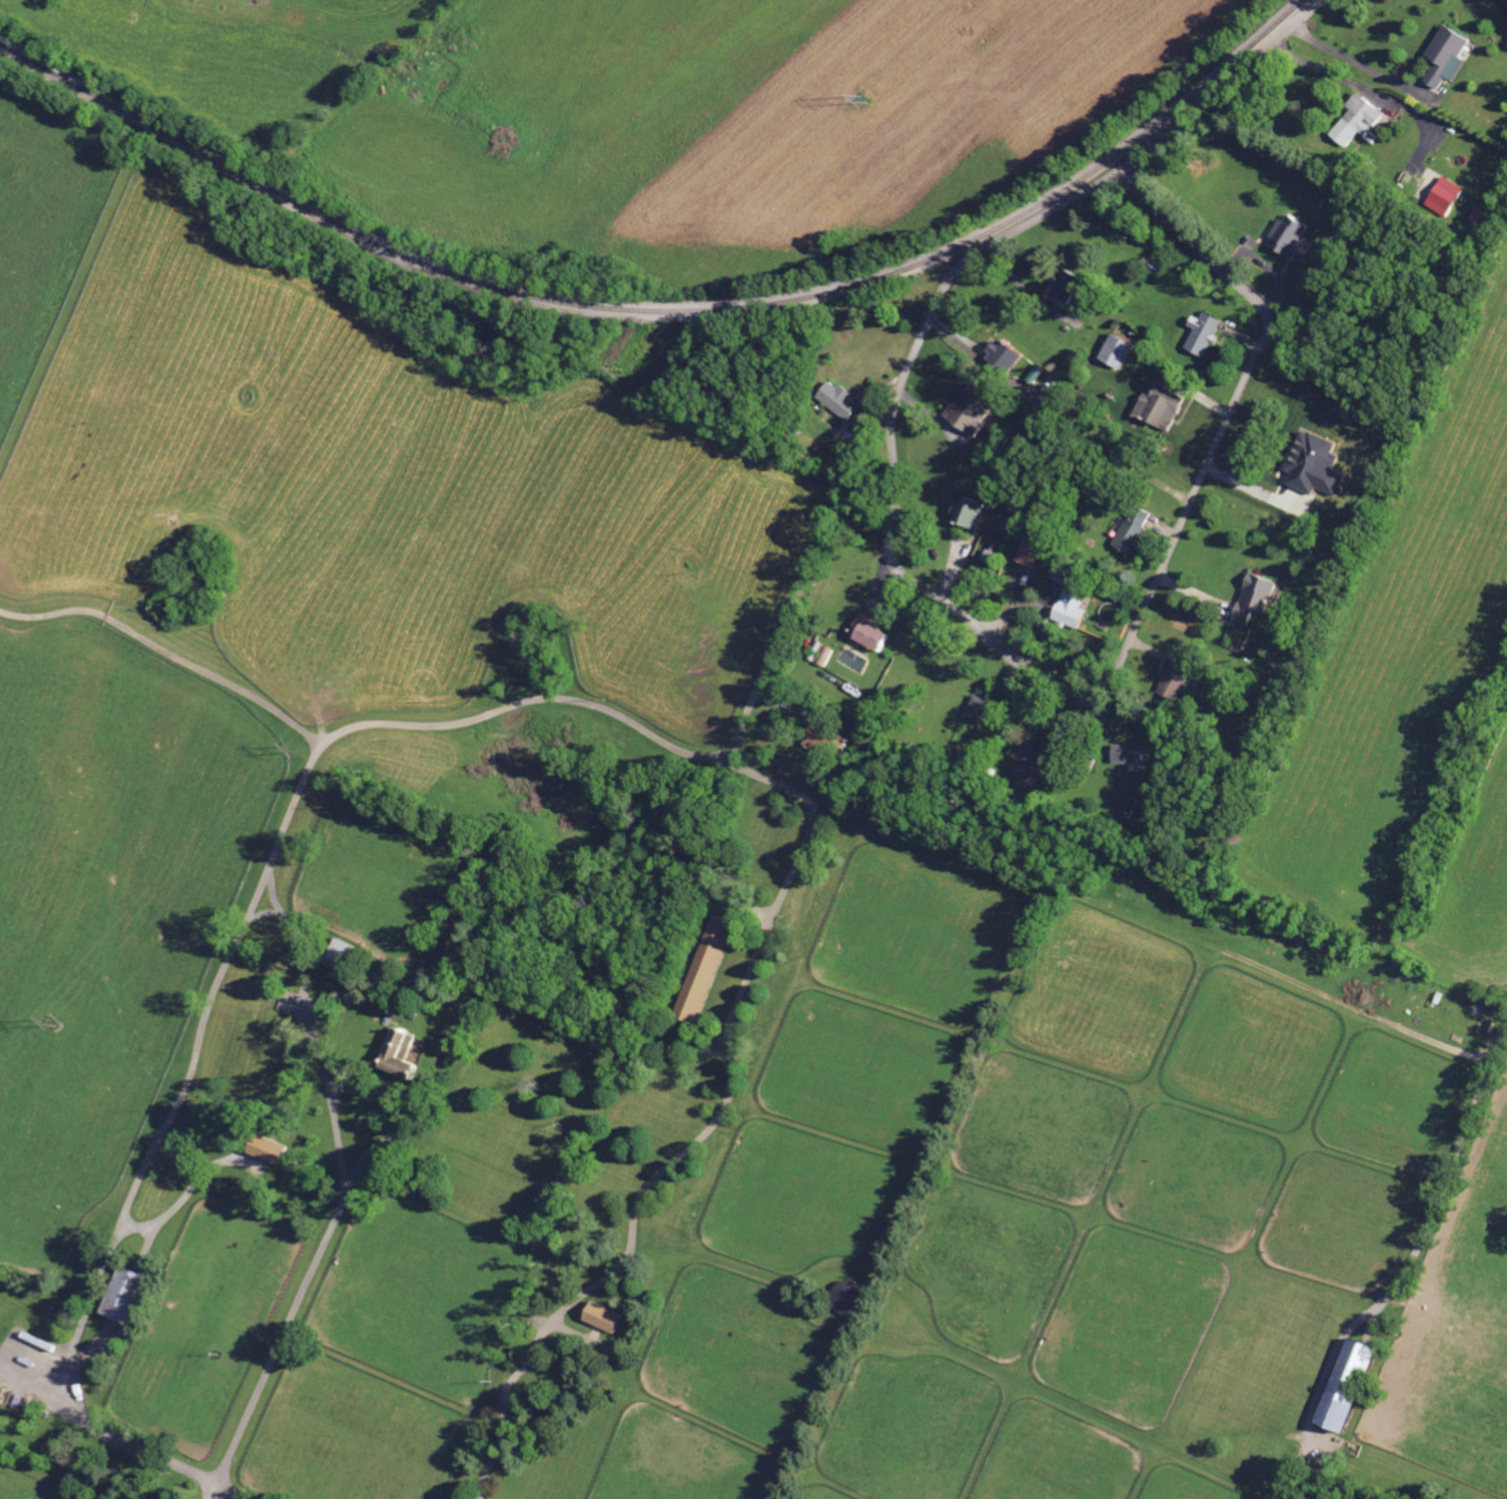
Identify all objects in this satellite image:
building: (1444, 56)
road: (1359, 62)
road: (1333, 75)
road: (1222, 88)
power tower: (867, 93)
building: (1356, 120)
building: (1441, 195)
building: (1285, 235)
building: (1059, 288)
railway: (668, 310)
building: (1201, 333)
building: (1113, 351)
building: (1000, 357)
power tower: (623, 366)
building: (837, 400)
building: (1158, 408)
building: (966, 412)
building: (1311, 465)
building: (964, 512)
building: (1130, 532)
building: (1026, 556)
building: (1251, 597)
road: (796, 600)
building: (1068, 610)
building: (866, 630)
building: (821, 653)
road: (1043, 678)
road: (583, 702)
building: (976, 708)
building: (839, 743)
power tower: (293, 749)
building: (1126, 752)
building: (1026, 761)
building: (1125, 804)
road: (265, 913)
building: (701, 969)
road: (359, 994)
power tower: (53, 1023)
building: (398, 1052)
road: (401, 1118)
road: (161, 1131)
building: (262, 1148)
road: (188, 1189)
road: (1405, 1274)
building: (119, 1293)
building: (598, 1316)
building: (1341, 1384)
road: (109, 1425)
road: (214, 1490)
road: (234, 1490)

